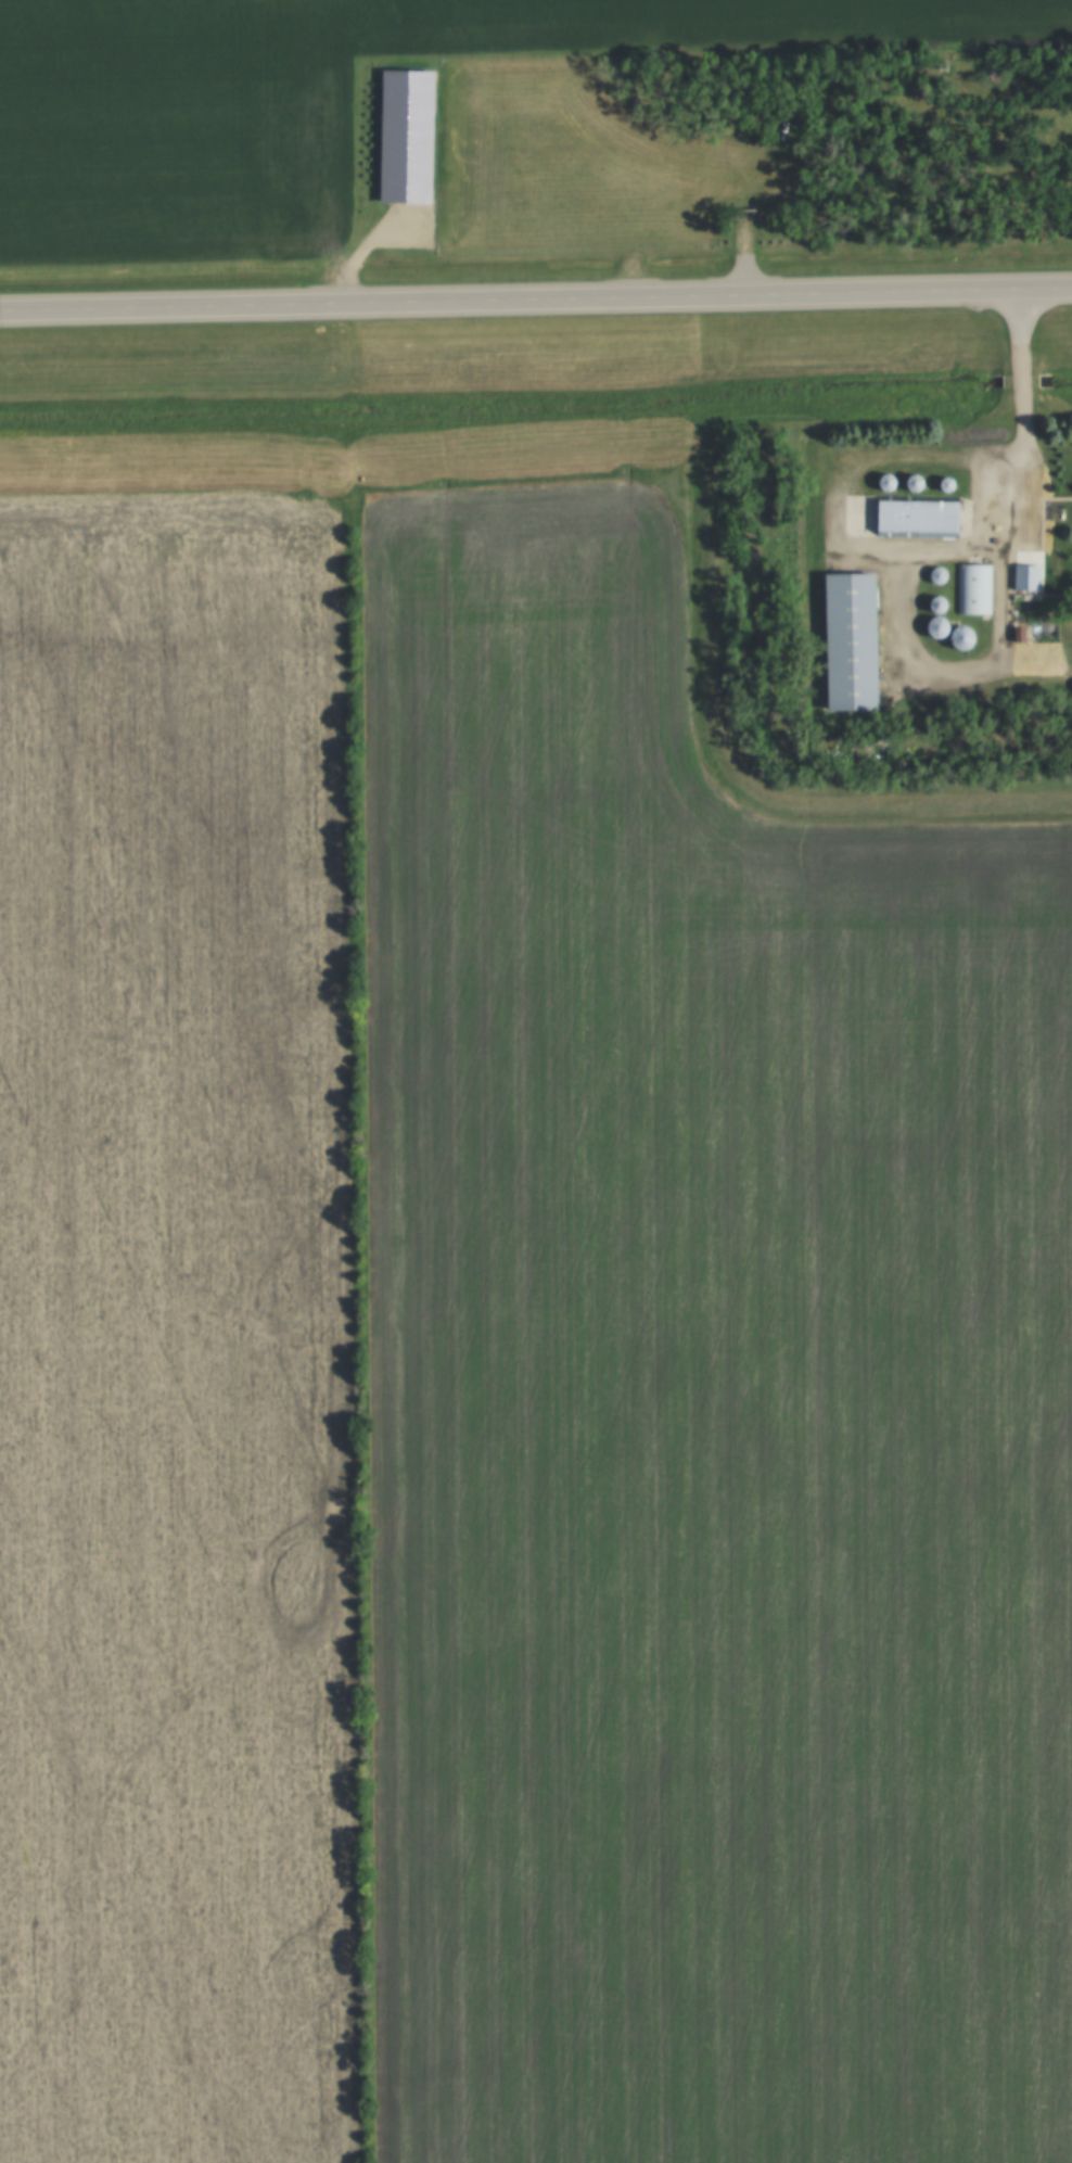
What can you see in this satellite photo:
crop: (693, 27)
crop: (175, 128)
road: (536, 301)
road: (1023, 386)
building: (990, 430)
building: (910, 518)
building: (1022, 576)
building: (971, 589)
building: (954, 637)
building: (843, 640)
crop: (176, 1335)
crop: (701, 1402)

